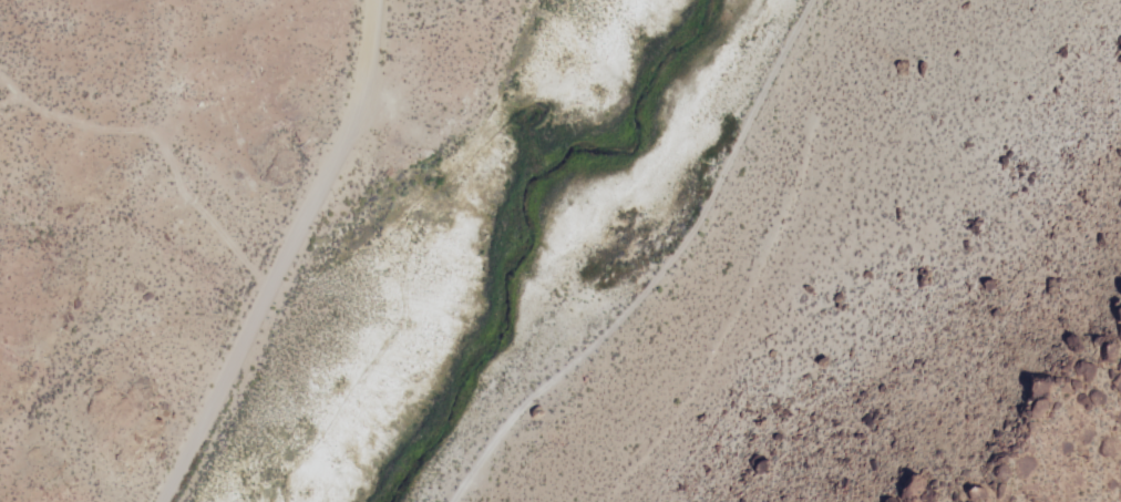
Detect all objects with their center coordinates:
road: (156, 161)
road: (286, 255)
road: (644, 265)

